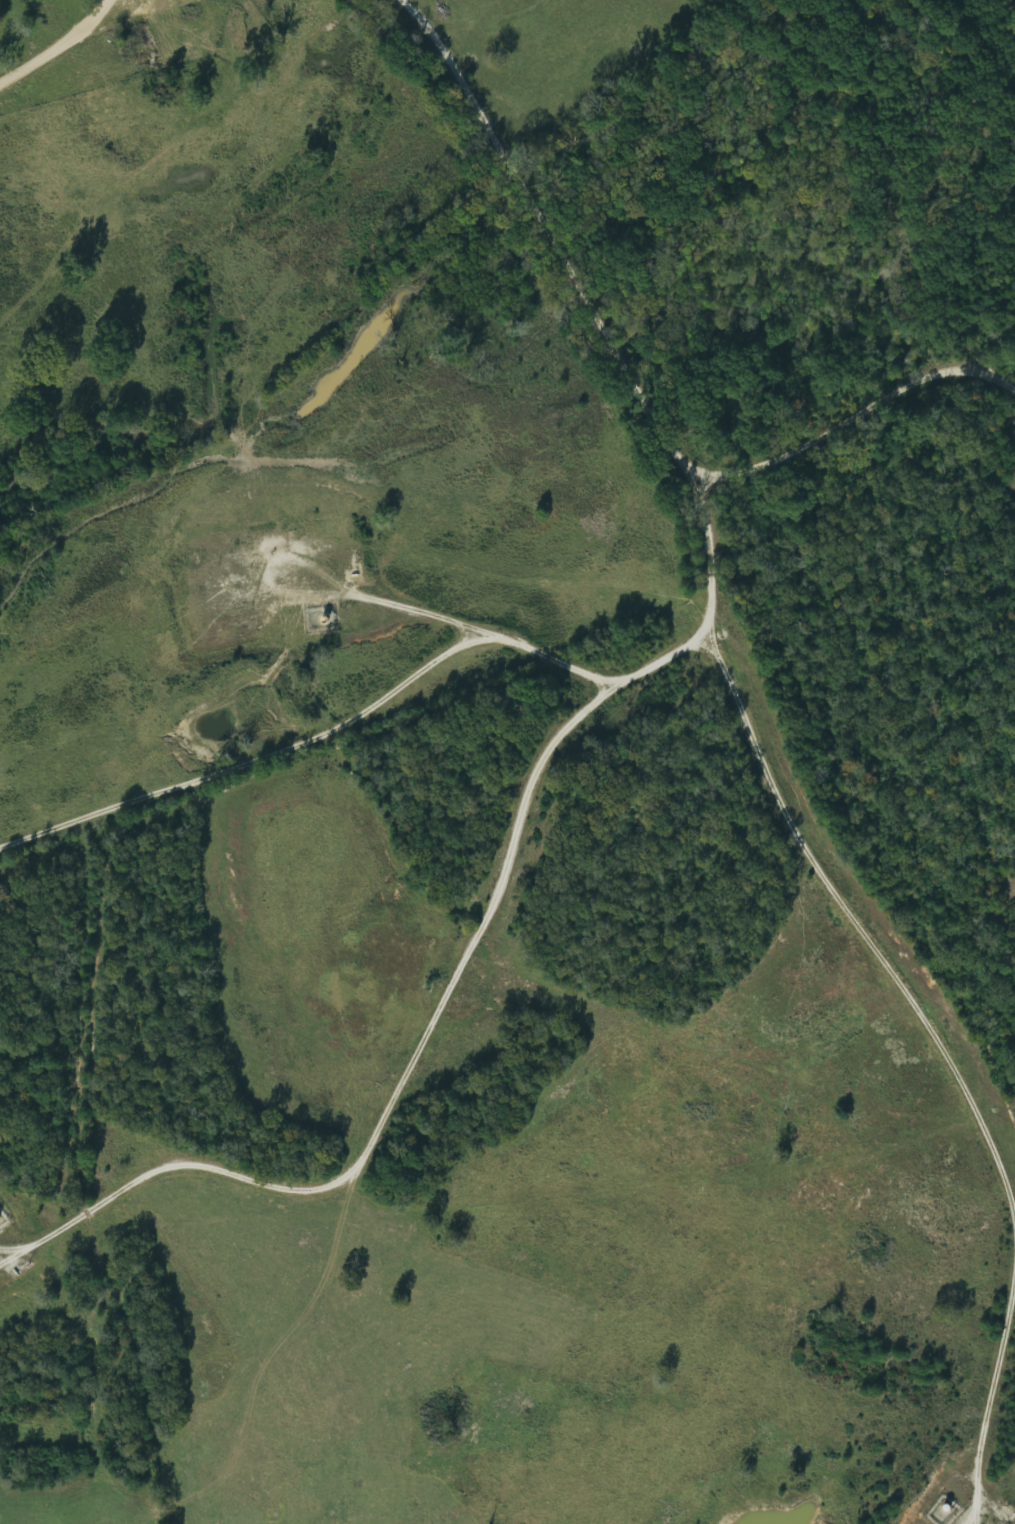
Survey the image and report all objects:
road: (707, 639)

